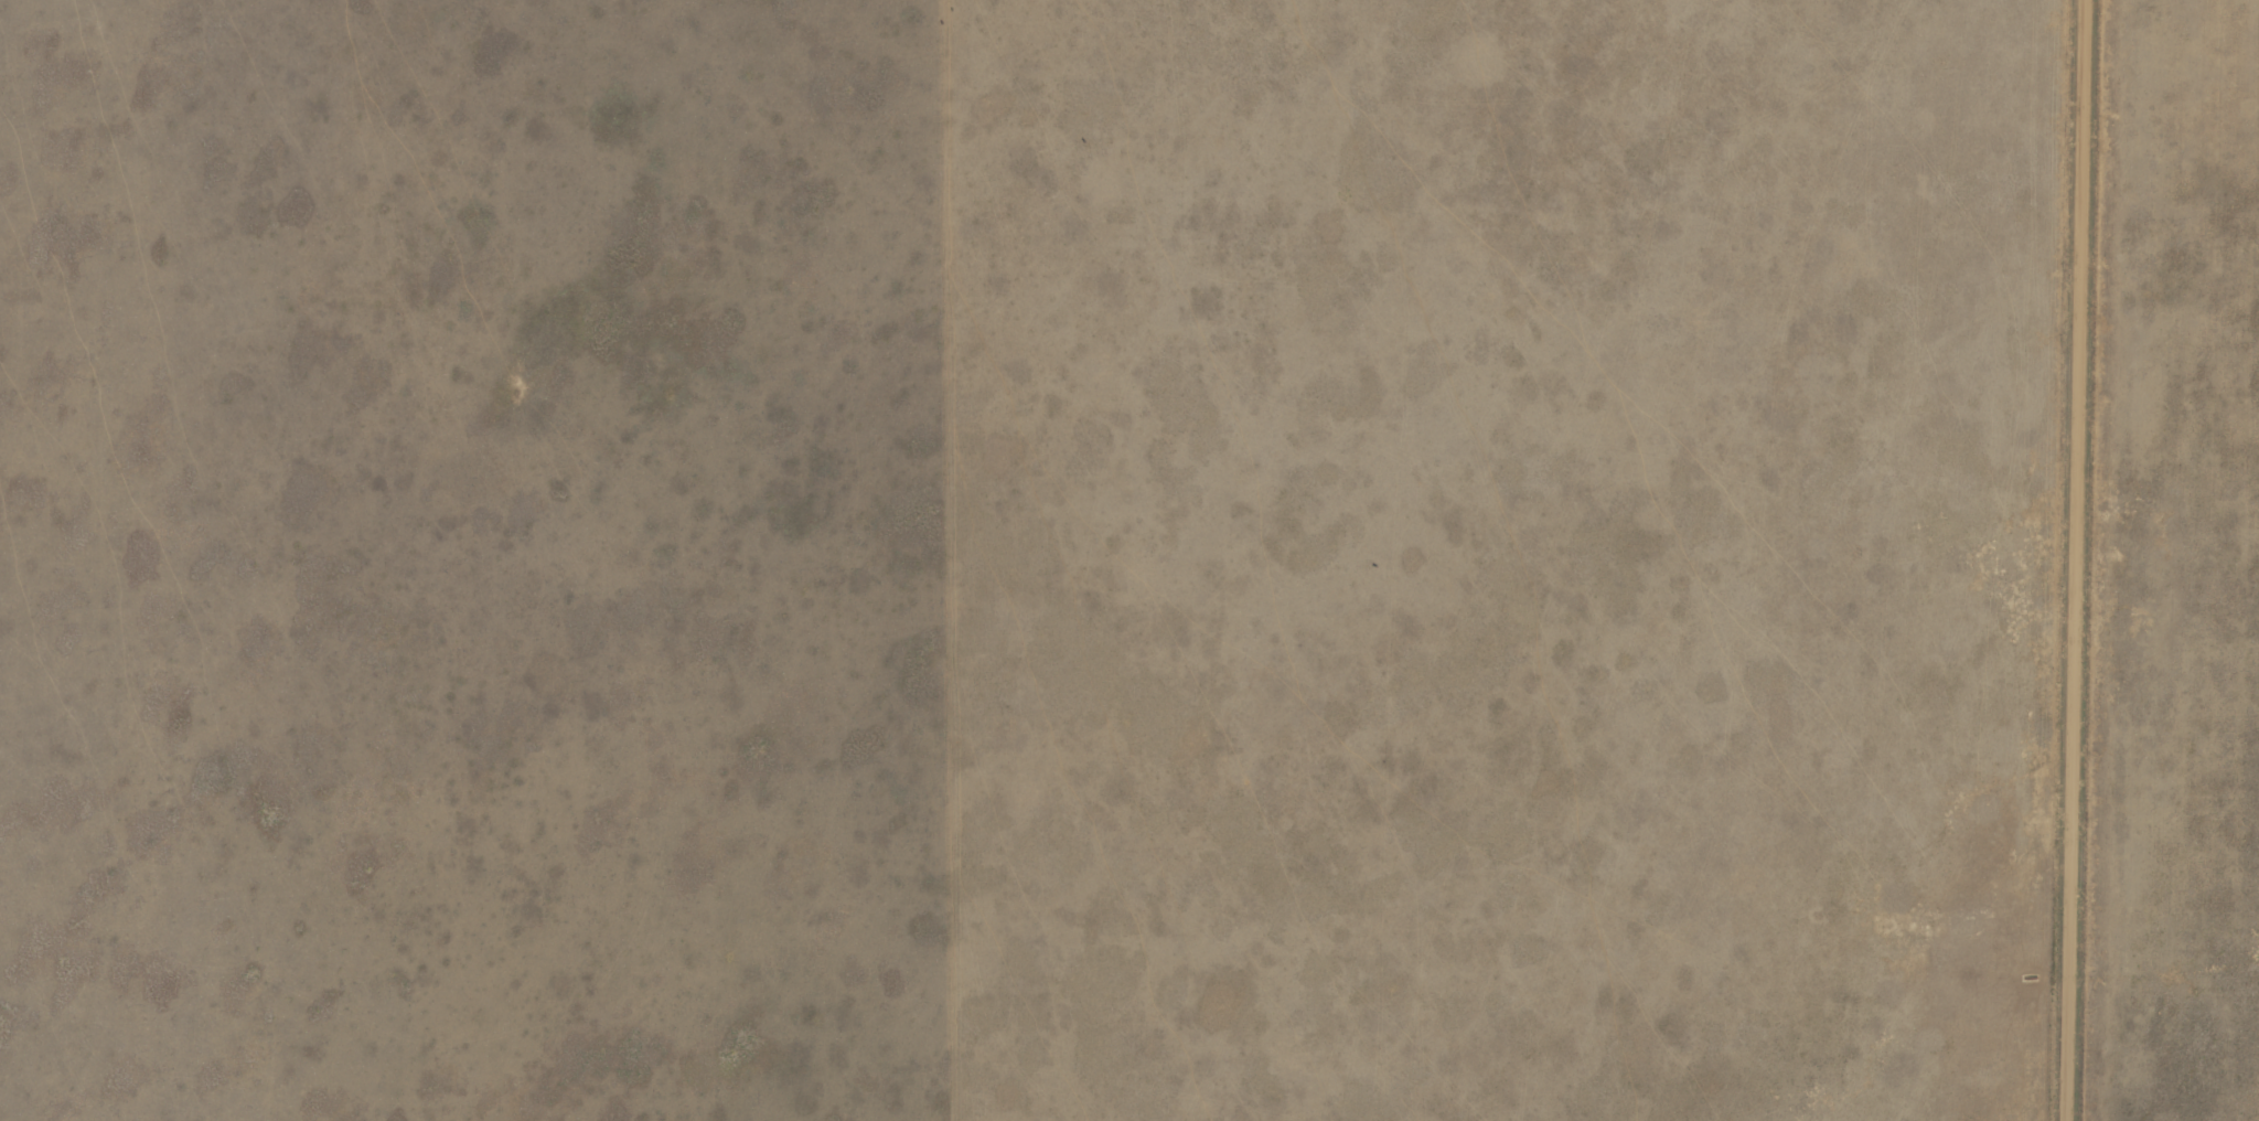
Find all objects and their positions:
road: (2078, 560)

